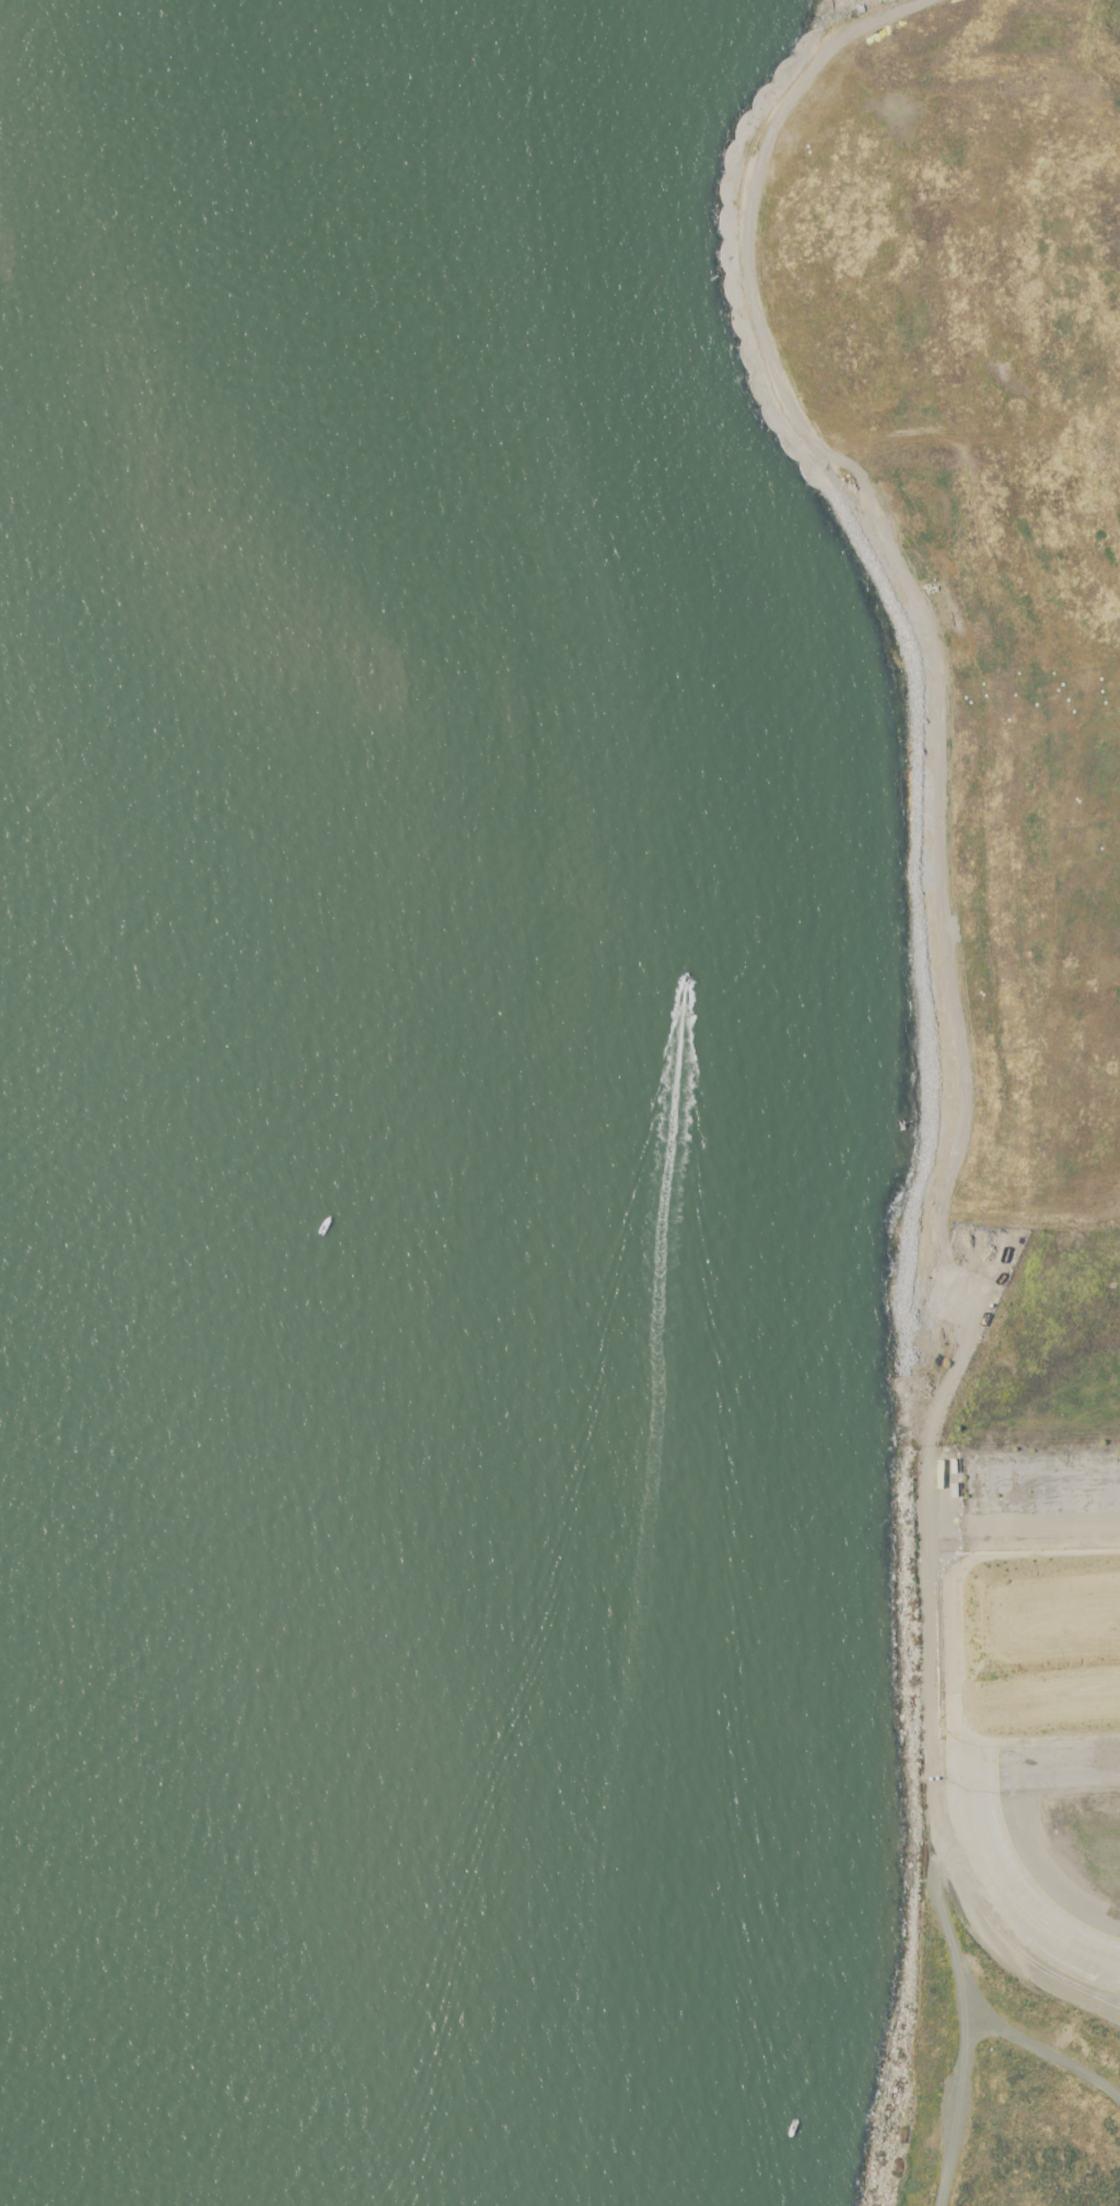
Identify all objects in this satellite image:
building: (987, 772)
road: (1077, 1011)
road: (958, 2016)

